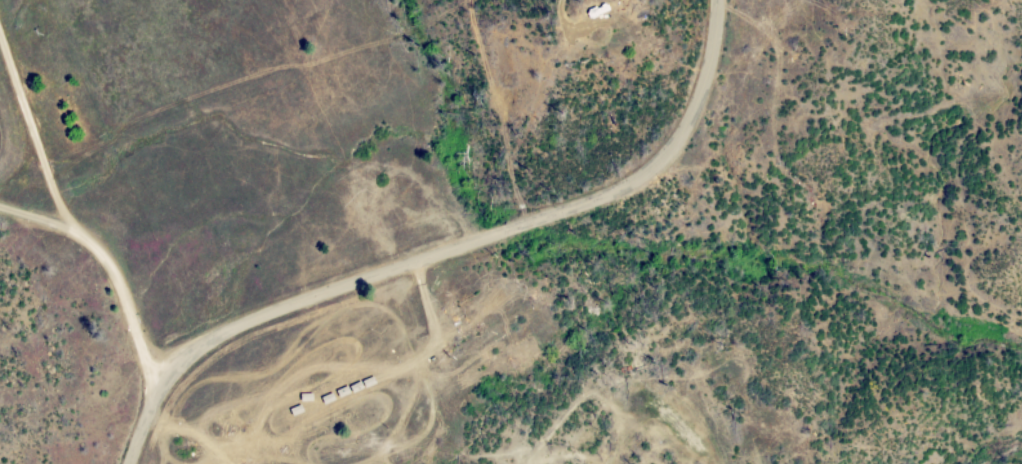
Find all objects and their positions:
road: (570, 25)
road: (249, 75)
road: (1004, 174)
road: (66, 221)
road: (482, 238)
road: (427, 394)
road: (140, 427)

